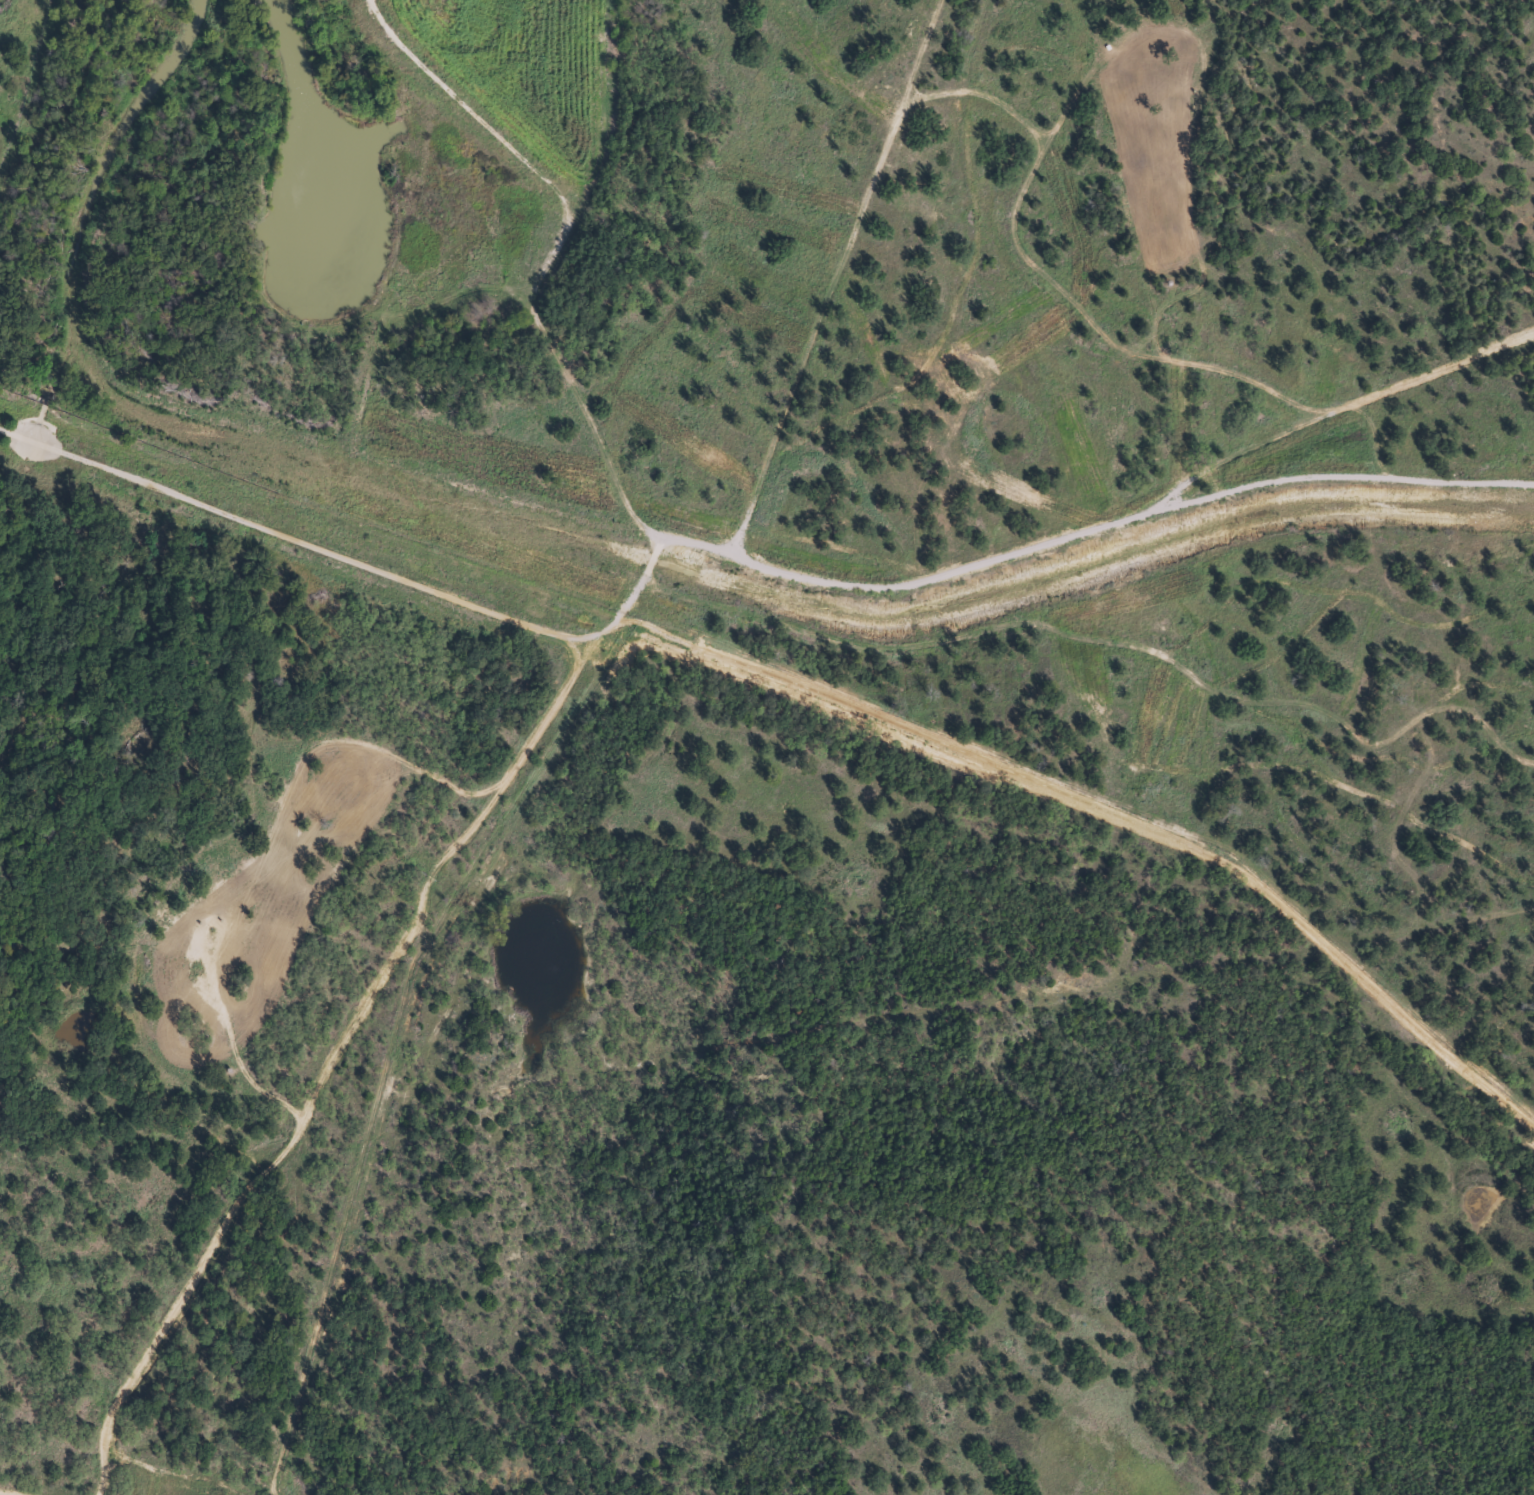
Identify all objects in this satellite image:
road: (302, 537)
road: (1111, 817)
road: (338, 1049)
road: (19, 1491)

